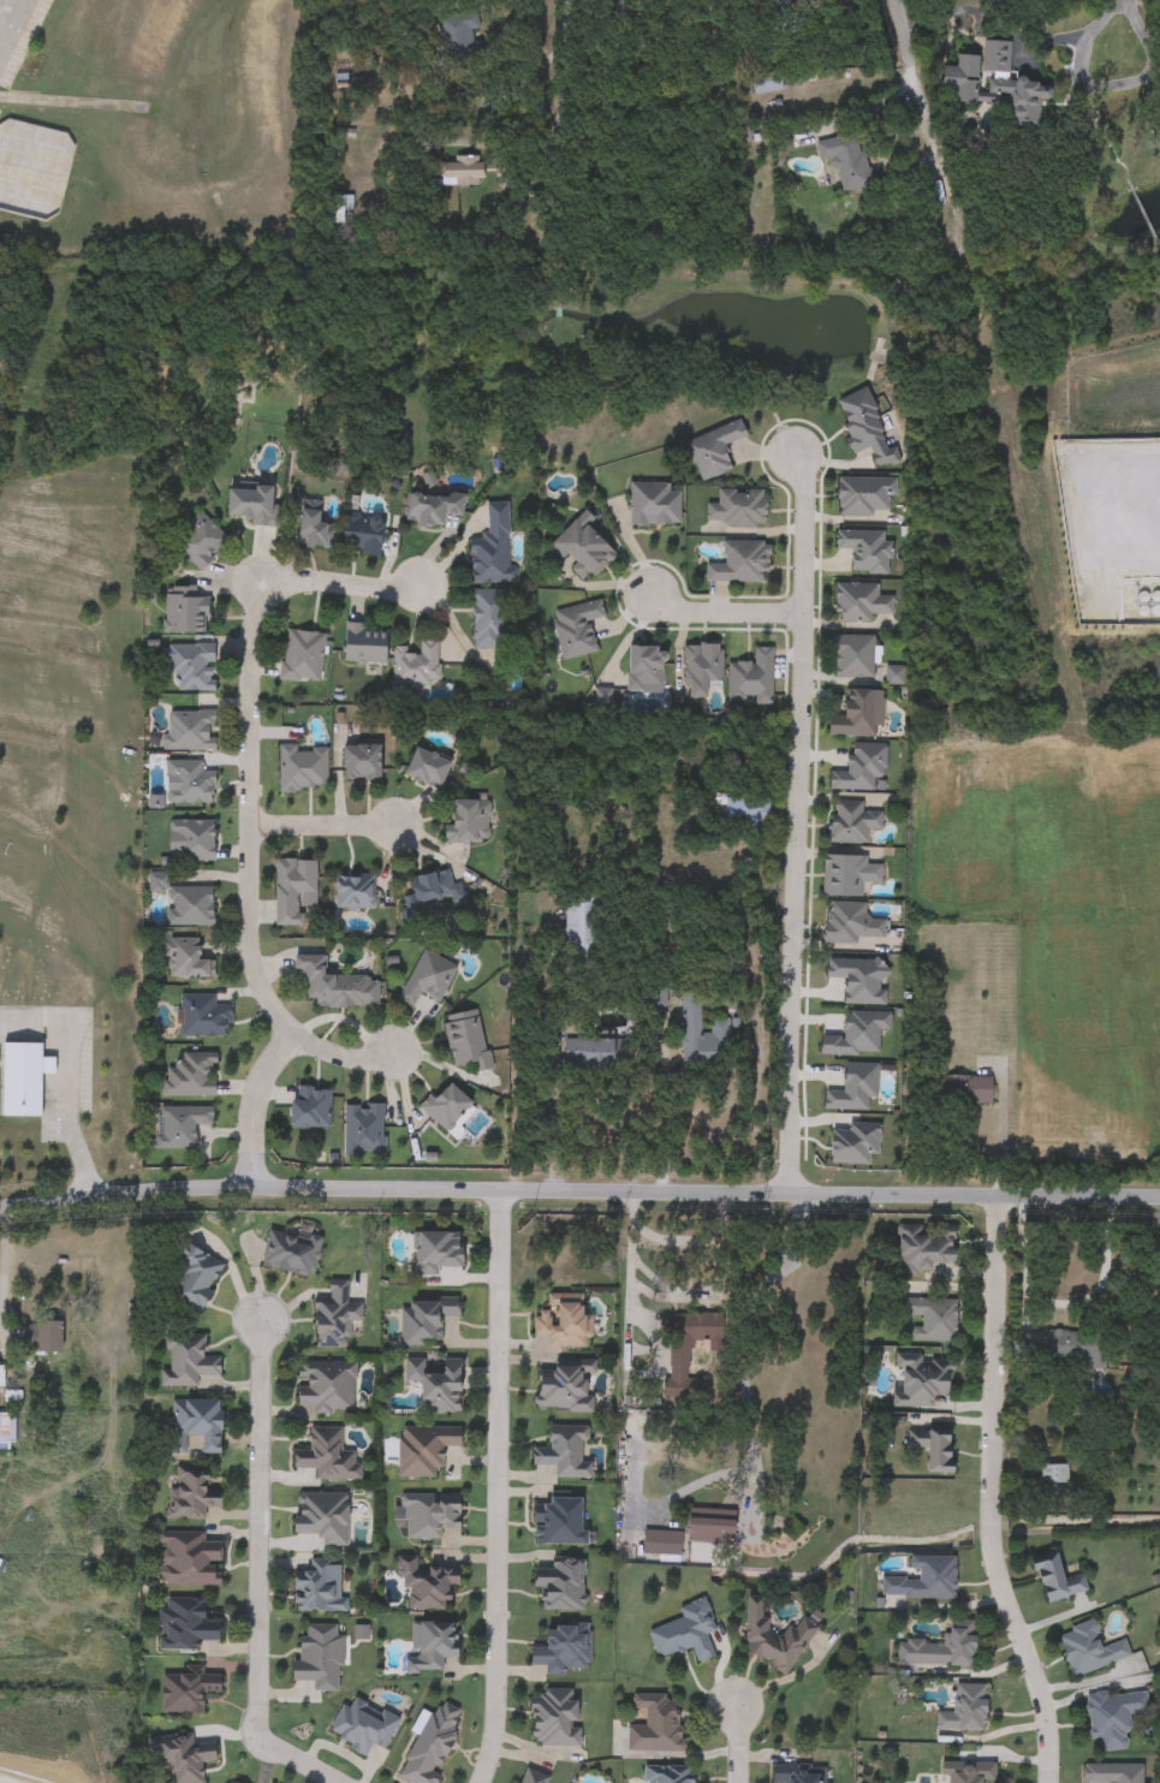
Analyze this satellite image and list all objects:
road: (14, 30)
building: (458, 38)
building: (999, 77)
building: (962, 81)
building: (767, 83)
road: (1105, 85)
road: (916, 87)
road: (561, 89)
road: (863, 109)
building: (847, 160)
building: (463, 174)
building: (341, 208)
building: (252, 505)
building: (433, 507)
building: (737, 510)
building: (317, 531)
building: (362, 536)
building: (201, 542)
building: (493, 549)
building: (582, 551)
building: (742, 563)
road: (340, 564)
building: (185, 611)
road: (722, 613)
building: (490, 620)
building: (577, 629)
building: (365, 644)
building: (853, 656)
building: (302, 658)
building: (416, 665)
building: (190, 666)
building: (646, 668)
building: (702, 668)
building: (894, 677)
building: (751, 678)
building: (859, 715)
building: (190, 731)
building: (362, 762)
building: (303, 769)
building: (428, 769)
building: (189, 784)
road: (250, 809)
building: (746, 814)
road: (792, 820)
road: (326, 822)
building: (469, 822)
building: (852, 824)
building: (194, 839)
building: (849, 875)
building: (293, 890)
building: (353, 892)
building: (429, 893)
building: (186, 904)
building: (852, 922)
building: (581, 931)
building: (185, 958)
building: (428, 977)
building: (334, 985)
building: (203, 1016)
building: (701, 1035)
building: (466, 1039)
road: (339, 1051)
building: (597, 1054)
building: (191, 1075)
building: (22, 1078)
road: (69, 1078)
building: (965, 1089)
road: (254, 1101)
building: (446, 1105)
building: (310, 1107)
road: (554, 1116)
building: (182, 1125)
building: (363, 1129)
road: (999, 1139)
road: (579, 1189)
building: (923, 1248)
building: (291, 1250)
building: (438, 1254)
road: (2, 1274)
building: (194, 1277)
road: (676, 1296)
building: (334, 1317)
building: (930, 1318)
building: (424, 1319)
building: (564, 1323)
road: (744, 1331)
building: (41, 1336)
building: (686, 1349)
building: (1072, 1349)
building: (188, 1361)
building: (922, 1381)
building: (436, 1383)
building: (326, 1386)
building: (565, 1386)
building: (198, 1421)
building: (935, 1446)
building: (565, 1451)
building: (429, 1452)
building: (328, 1456)
building: (1053, 1475)
road: (496, 1486)
road: (998, 1493)
building: (191, 1497)
building: (322, 1516)
building: (430, 1516)
building: (559, 1520)
road: (258, 1529)
building: (712, 1531)
building: (661, 1544)
building: (189, 1559)
building: (1058, 1579)
building: (922, 1580)
building: (559, 1583)
building: (426, 1585)
building: (319, 1586)
building: (184, 1625)
building: (685, 1633)
building: (774, 1638)
building: (432, 1645)
building: (940, 1647)
building: (563, 1648)
building: (1089, 1650)
building: (319, 1656)
building: (185, 1692)
building: (965, 1708)
building: (1113, 1717)
building: (554, 1718)
building: (655, 1723)
building: (430, 1743)
road: (737, 1745)
building: (183, 1757)
road: (298, 1760)
building: (969, 1771)
building: (801, 1773)
building: (1112, 1773)
building: (670, 1775)
building: (534, 1777)
road: (2, 1782)
building: (232, 1782)

